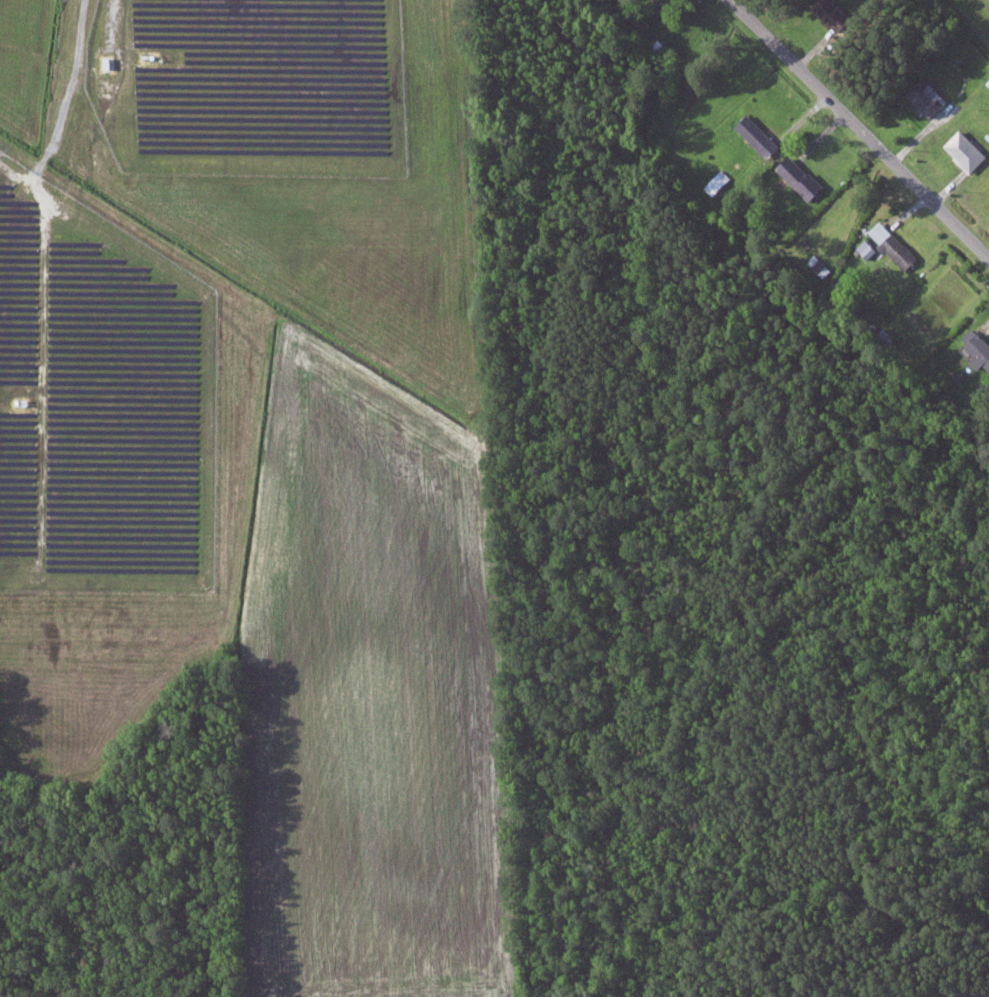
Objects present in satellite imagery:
building: (667, 4)
building: (836, 14)
building: (930, 98)
road: (861, 127)
building: (759, 134)
building: (968, 150)
building: (806, 180)
building: (895, 244)
building: (868, 248)
building: (977, 347)

